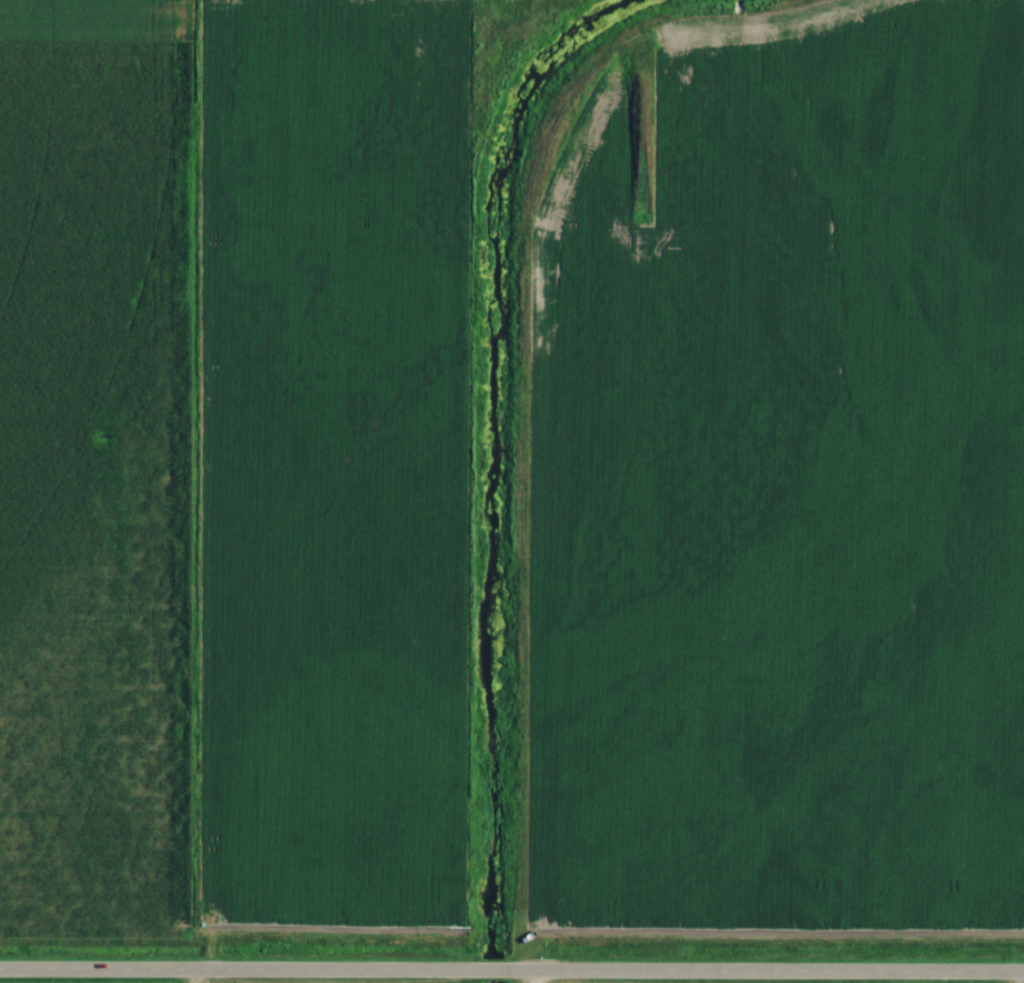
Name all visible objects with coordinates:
road: (511, 977)
road: (533, 980)

